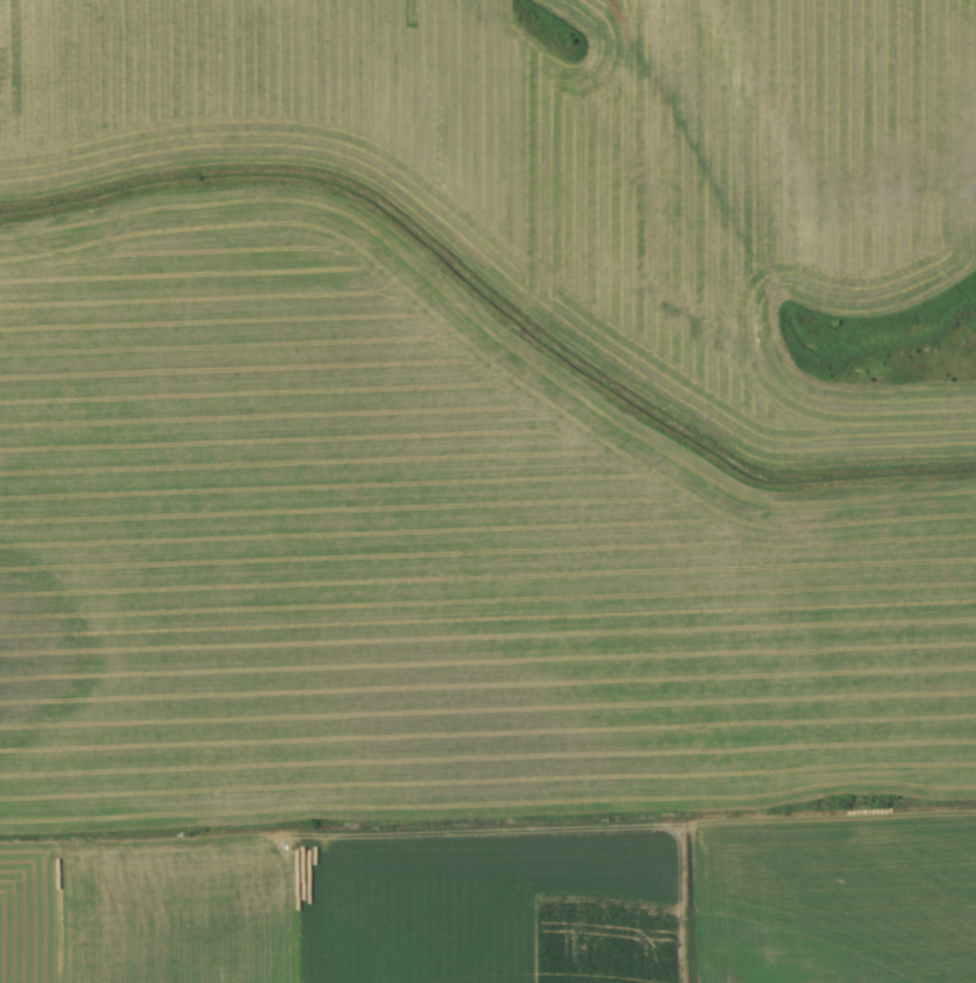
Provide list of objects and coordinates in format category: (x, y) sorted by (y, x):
crop: (834, 125)
crop: (465, 181)
crop: (438, 646)

